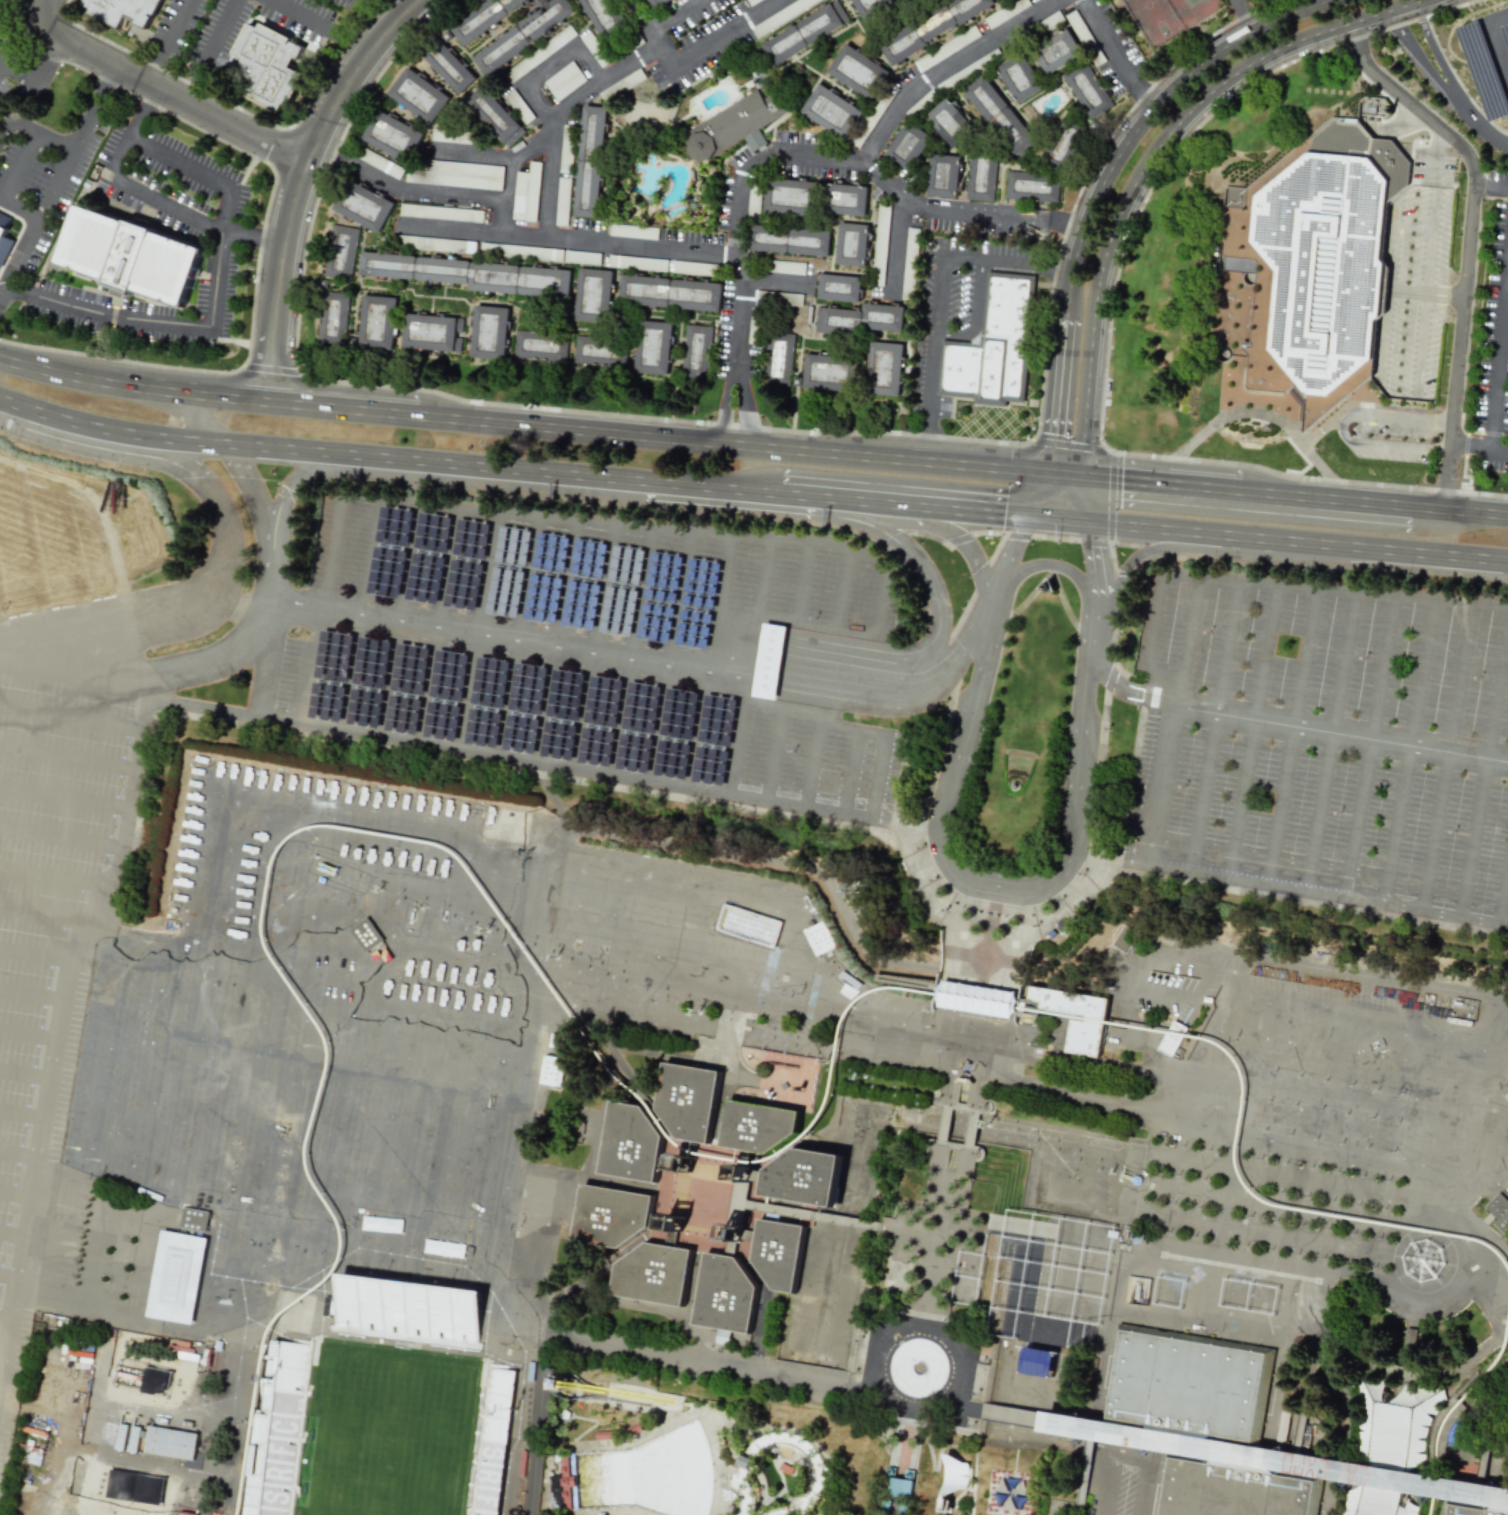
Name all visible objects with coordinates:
building: (583, 0)
building: (1000, 0)
building: (750, 1)
building: (1008, 2)
park: (1191, 2)
building: (658, 4)
building: (872, 5)
building: (796, 7)
building: (124, 11)
road: (1284, 13)
building: (603, 14)
road: (670, 15)
building: (1001, 15)
road: (1239, 15)
park: (1154, 17)
building: (488, 20)
building: (1051, 21)
road: (1331, 23)
road: (317, 25)
building: (936, 29)
building: (809, 34)
road: (1496, 36)
building: (529, 37)
building: (1085, 38)
road: (163, 40)
road: (1108, 41)
building: (594, 49)
building: (947, 49)
road: (208, 50)
road: (1433, 50)
building: (538, 54)
road: (694, 54)
road: (1416, 55)
road: (1, 63)
road: (1196, 63)
road: (1, 66)
road: (546, 69)
building: (273, 70)
building: (449, 70)
building: (860, 72)
road: (42, 79)
building: (563, 81)
road: (1210, 84)
building: (622, 85)
road: (156, 88)
road: (1141, 95)
building: (419, 100)
building: (518, 106)
road: (141, 111)
building: (833, 115)
building: (496, 117)
road: (558, 118)
building: (731, 124)
building: (867, 125)
road: (14, 127)
road: (1477, 127)
building: (1007, 135)
building: (449, 136)
road: (876, 136)
building: (595, 137)
building: (396, 141)
road: (331, 148)
building: (566, 149)
road: (25, 155)
road: (501, 157)
road: (760, 158)
building: (380, 163)
road: (1110, 163)
building: (456, 174)
road: (1133, 178)
road: (60, 179)
road: (299, 182)
road: (1480, 185)
road: (1497, 187)
building: (589, 191)
road: (421, 193)
building: (526, 193)
road: (507, 197)
building: (562, 201)
building: (754, 202)
road: (171, 208)
building: (364, 210)
building: (440, 213)
building: (815, 220)
road: (1064, 223)
building: (633, 231)
building: (4, 237)
road: (254, 237)
road: (1465, 237)
building: (435, 244)
building: (880, 244)
road: (623, 246)
road: (897, 246)
road: (1075, 251)
building: (530, 252)
building: (344, 254)
building: (130, 255)
road: (1100, 260)
building: (637, 263)
building: (910, 264)
building: (787, 267)
building: (695, 268)
road: (1048, 270)
road: (216, 272)
building: (393, 272)
road: (1507, 275)
building: (444, 276)
building: (495, 281)
road: (774, 281)
building: (1318, 283)
building: (543, 285)
road: (1386, 290)
road: (1426, 292)
road: (5, 293)
road: (1423, 293)
building: (673, 295)
building: (595, 296)
road: (1066, 296)
building: (791, 299)
road: (938, 302)
road: (972, 312)
building: (334, 323)
road: (1108, 325)
building: (379, 327)
building: (433, 335)
building: (492, 338)
road: (1062, 344)
building: (847, 345)
building: (542, 347)
building: (656, 349)
building: (995, 349)
building: (604, 350)
building: (698, 352)
road: (1498, 356)
building: (779, 358)
road: (60, 371)
road: (1086, 379)
road: (195, 392)
road: (726, 400)
road: (745, 402)
road: (343, 406)
road: (1254, 412)
road: (1372, 413)
road: (192, 416)
road: (1054, 421)
road: (110, 429)
road: (662, 436)
road: (1386, 444)
road: (1468, 445)
road: (927, 446)
road: (1498, 449)
road: (419, 460)
road: (180, 463)
road: (979, 465)
traffic signals: (1049, 473)
road: (1065, 474)
traffic signals: (1081, 476)
road: (1159, 482)
road: (697, 486)
road: (253, 494)
road: (292, 494)
road: (1038, 494)
road: (1324, 497)
road: (1083, 499)
road: (904, 504)
road: (1458, 510)
road: (833, 515)
traffic signals: (1028, 516)
road: (1056, 519)
traffic signals: (1085, 522)
road: (671, 526)
road: (1296, 541)
road: (1170, 547)
road: (1057, 566)
road: (762, 575)
road: (801, 580)
road: (839, 587)
road: (930, 587)
road: (1277, 588)
road: (234, 600)
road: (291, 609)
road: (355, 613)
road: (394, 619)
road: (103, 623)
road: (435, 625)
road: (476, 630)
road: (517, 636)
road: (554, 640)
road: (540, 641)
road: (241, 642)
road: (1192, 643)
road: (591, 644)
parking lot: (577, 645)
road: (631, 649)
road: (670, 654)
road: (706, 659)
building: (770, 659)
road: (770, 659)
road: (271, 664)
road: (947, 666)
road: (75, 667)
road: (309, 667)
road: (836, 670)
road: (1120, 682)
road: (1216, 713)
road: (71, 715)
road: (1254, 719)
road: (1294, 724)
road: (339, 730)
road: (1331, 730)
road: (1332, 730)
parking lot: (1326, 732)
road: (1371, 737)
road: (736, 747)
road: (1409, 749)
road: (773, 754)
road: (1445, 755)
road: (68, 758)
road: (810, 760)
road: (1487, 765)
road: (1168, 770)
road: (849, 771)
road: (548, 790)
road: (64, 802)
road: (836, 812)
road: (905, 823)
road: (61, 840)
road: (1287, 859)
road: (58, 875)
parking lot: (49, 876)
road: (1002, 889)
road: (1503, 890)
road: (43, 917)
building: (365, 934)
building: (822, 939)
building: (1125, 939)
road: (34, 955)
building: (851, 979)
road: (31, 995)
road: (1349, 1012)
theme park: (737, 1013)
road: (59, 1016)
building: (1085, 1036)
road: (27, 1038)
building: (1173, 1038)
building: (1140, 1043)
railway: (612, 1068)
building: (551, 1071)
road: (24, 1076)
road: (1449, 1086)
building: (691, 1100)
road: (1094, 1100)
road: (21, 1113)
building: (761, 1126)
fountain: (859, 1129)
building: (1329, 1140)
building: (632, 1144)
building: (729, 1149)
road: (18, 1153)
fountain: (1074, 1175)
building: (806, 1177)
road: (14, 1198)
building: (1500, 1212)
building: (612, 1216)
building: (193, 1219)
road: (1471, 1225)
road: (11, 1236)
building: (779, 1253)
building: (655, 1274)
building: (175, 1280)
building: (726, 1295)
road: (516, 1298)
building: (633, 1303)
building: (1007, 1311)
road: (121, 1315)
building: (409, 1315)
road: (4, 1316)
building: (984, 1354)
road: (1, 1357)
building: (1042, 1362)
fountain: (918, 1367)
building: (1188, 1375)
building: (132, 1377)
building: (559, 1382)
road: (234, 1410)
railway: (1450, 1414)
road: (537, 1422)
building: (633, 1429)
park: (391, 1431)
building: (286, 1432)
building: (604, 1435)
building: (496, 1441)
building: (171, 1442)
road: (1129, 1461)
building: (785, 1470)
building: (892, 1471)
building: (910, 1474)
building: (566, 1481)
building: (1233, 1491)
building: (898, 1495)
building: (1472, 1509)
building: (600, 1513)

